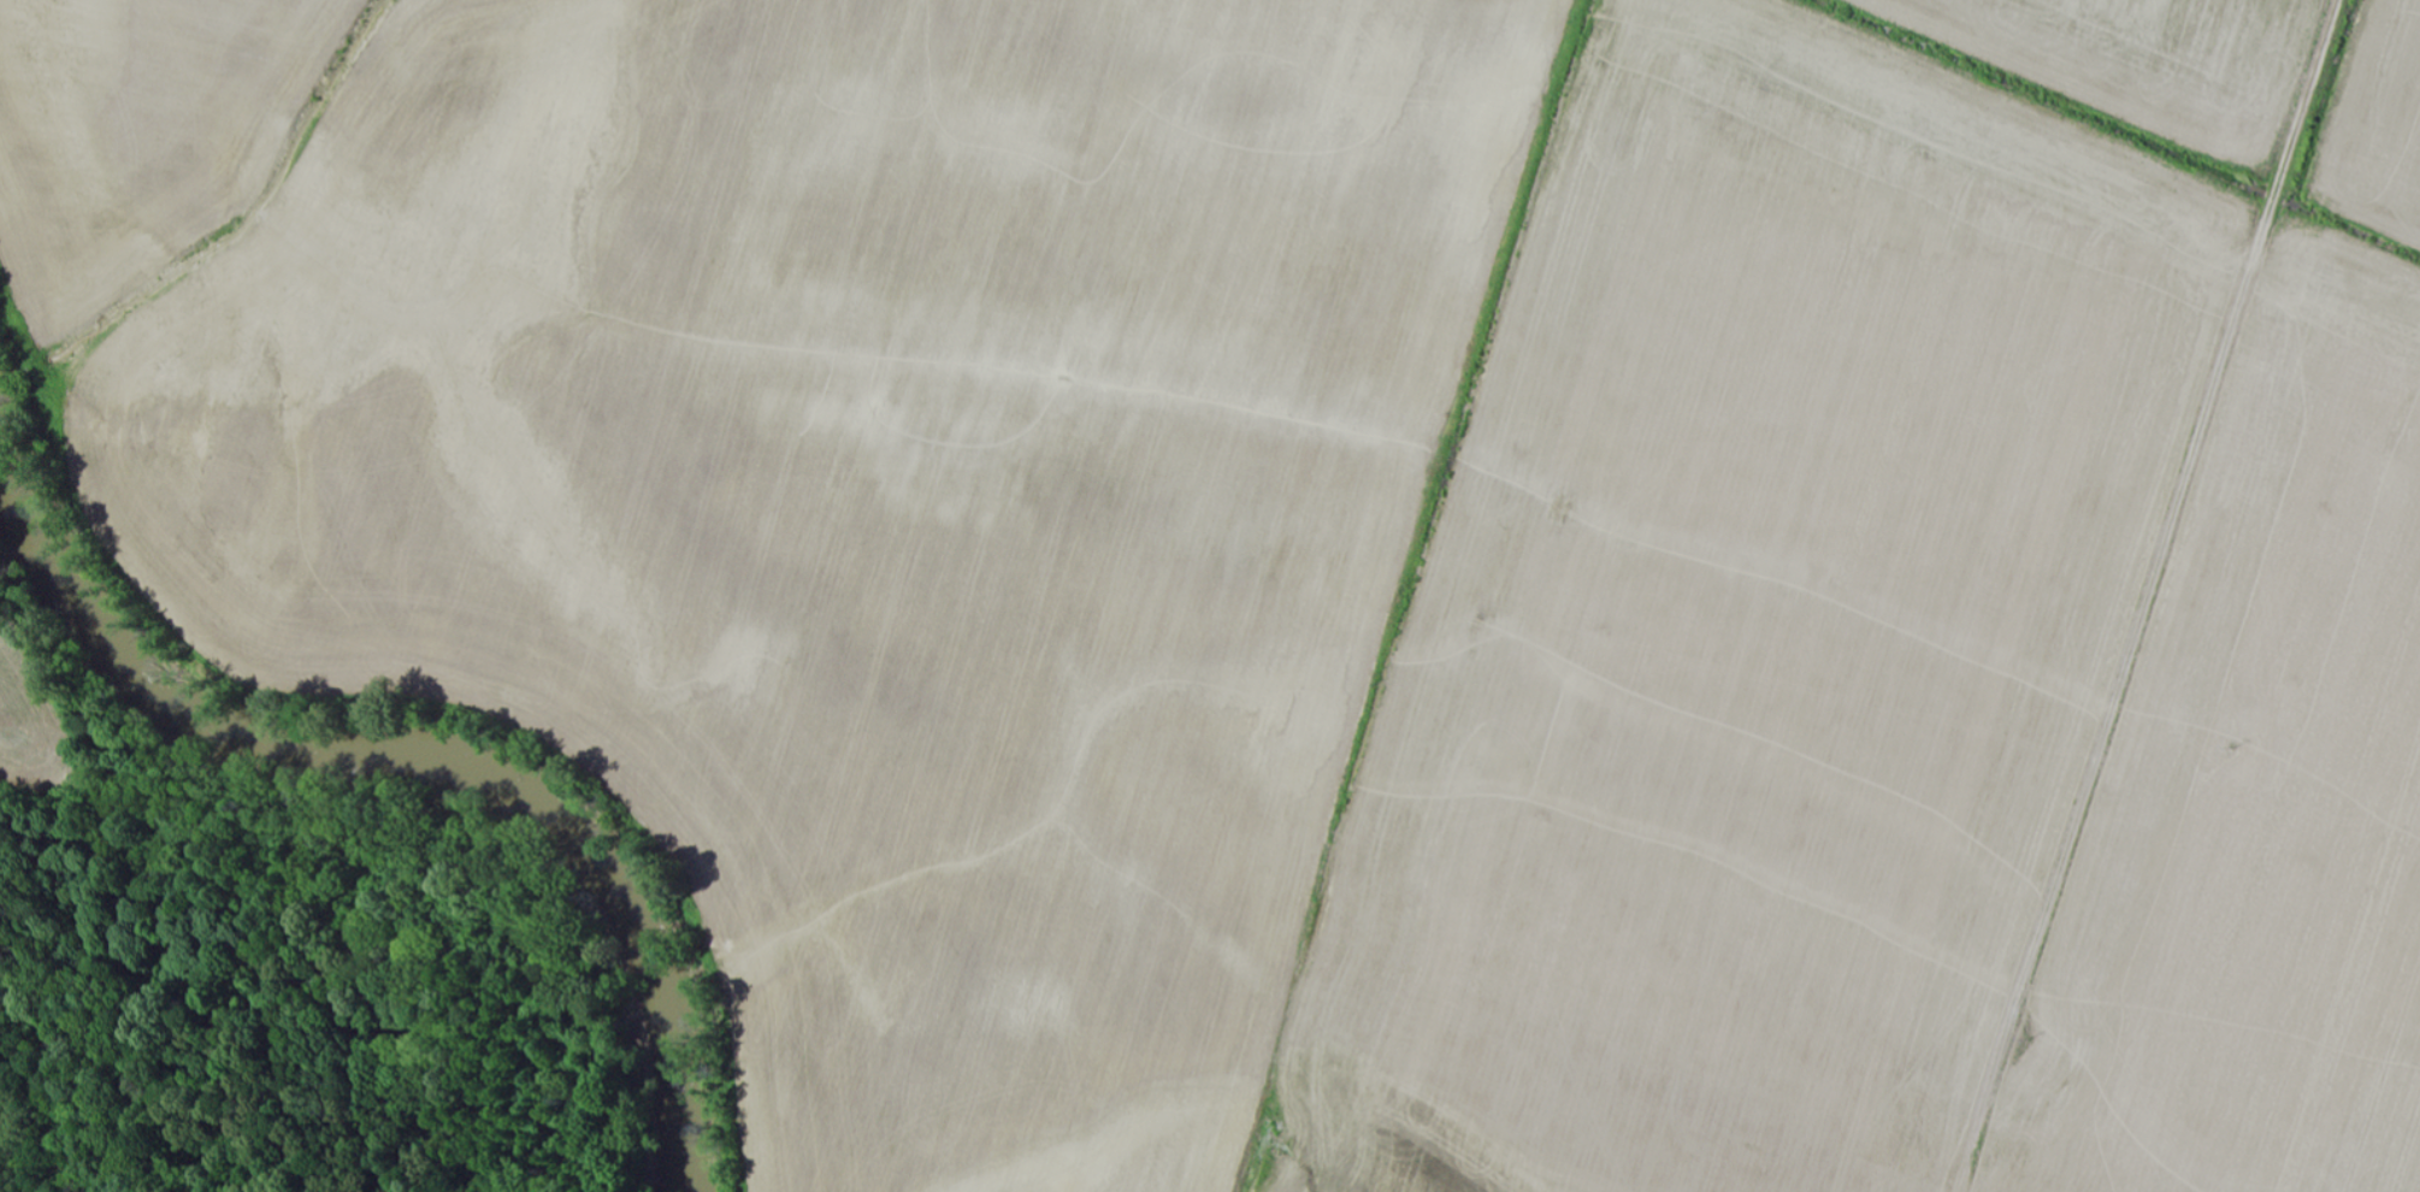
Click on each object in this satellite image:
road: (2133, 596)
river: (397, 769)

